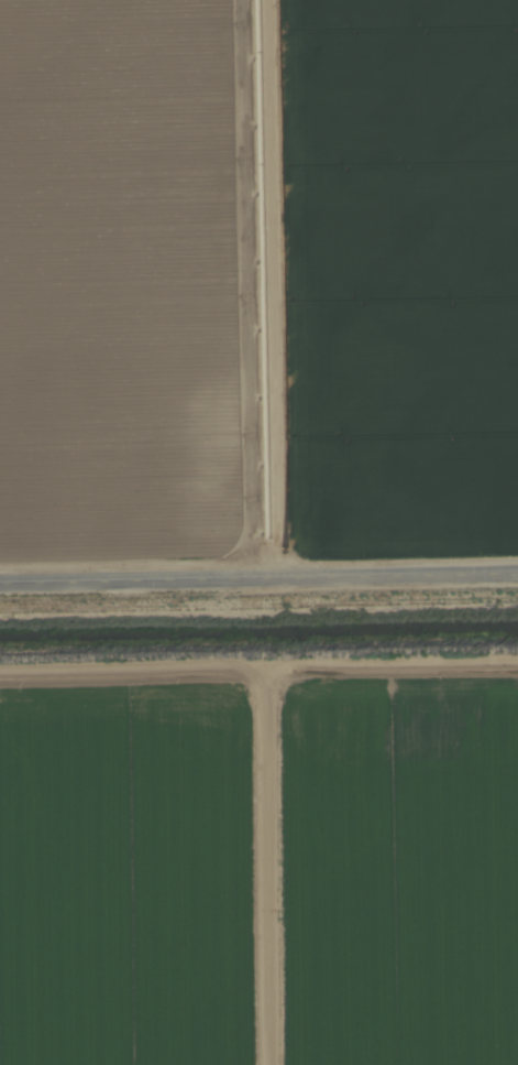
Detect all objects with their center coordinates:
road: (258, 585)

